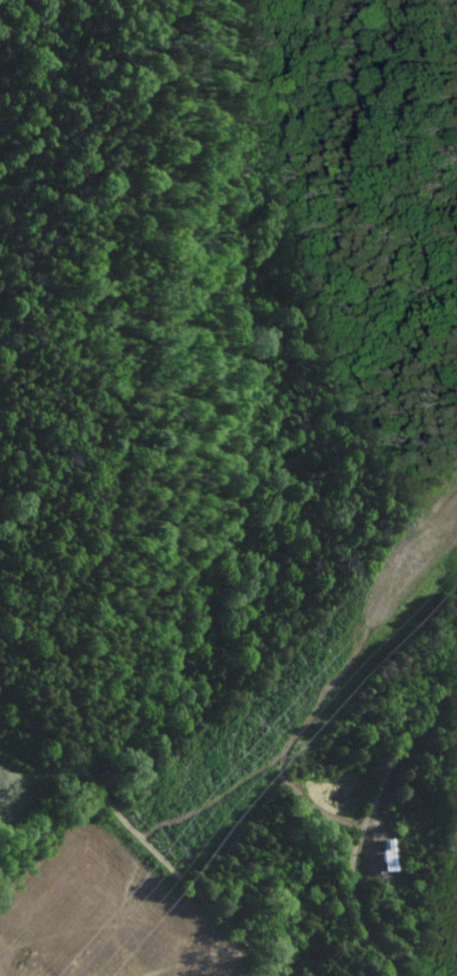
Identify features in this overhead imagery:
building: (386, 858)

